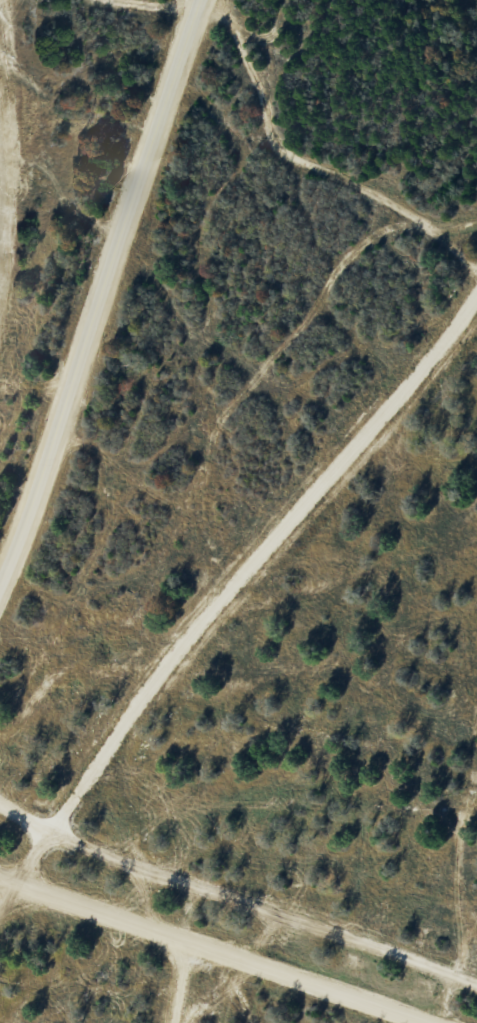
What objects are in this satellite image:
road: (1, 230)
road: (107, 292)
road: (236, 898)
road: (215, 950)

